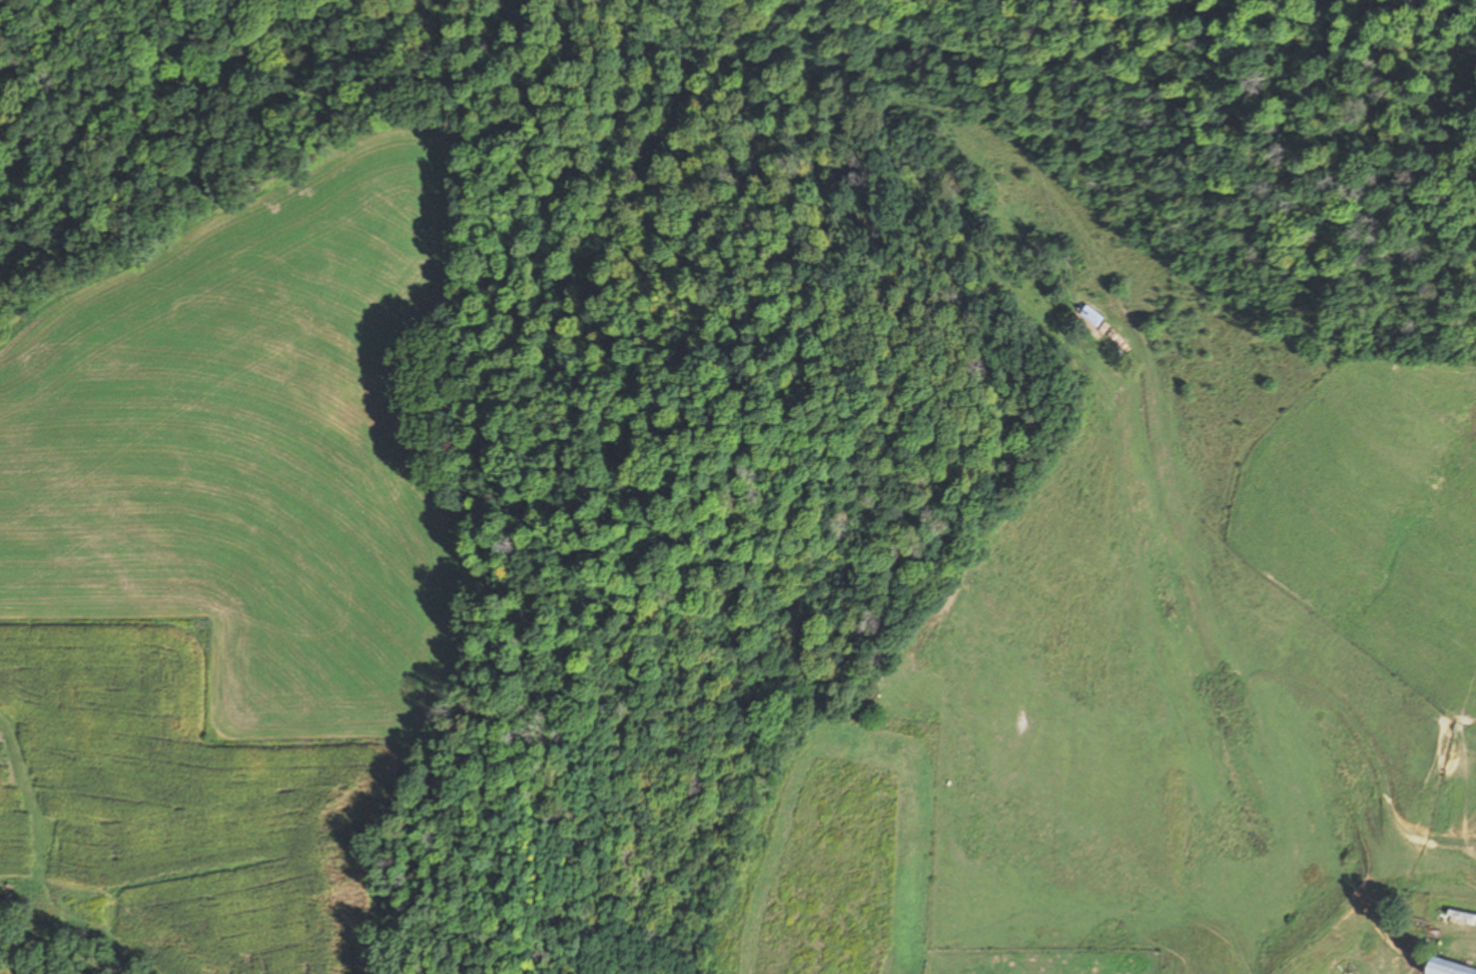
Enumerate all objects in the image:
building: (1093, 317)
building: (1446, 967)

